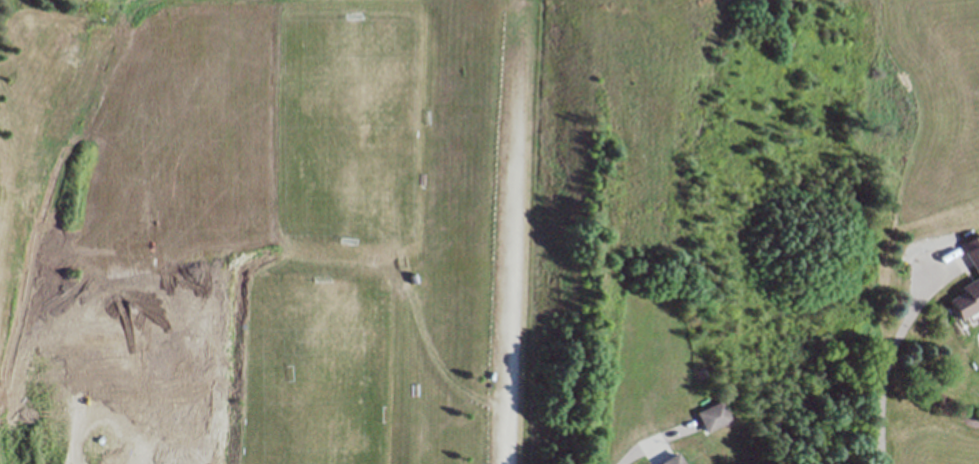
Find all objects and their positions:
park: (346, 127)
building: (973, 251)
road: (509, 278)
building: (966, 301)
road: (891, 360)
park: (316, 370)
building: (713, 416)
road: (639, 447)
building: (673, 459)

